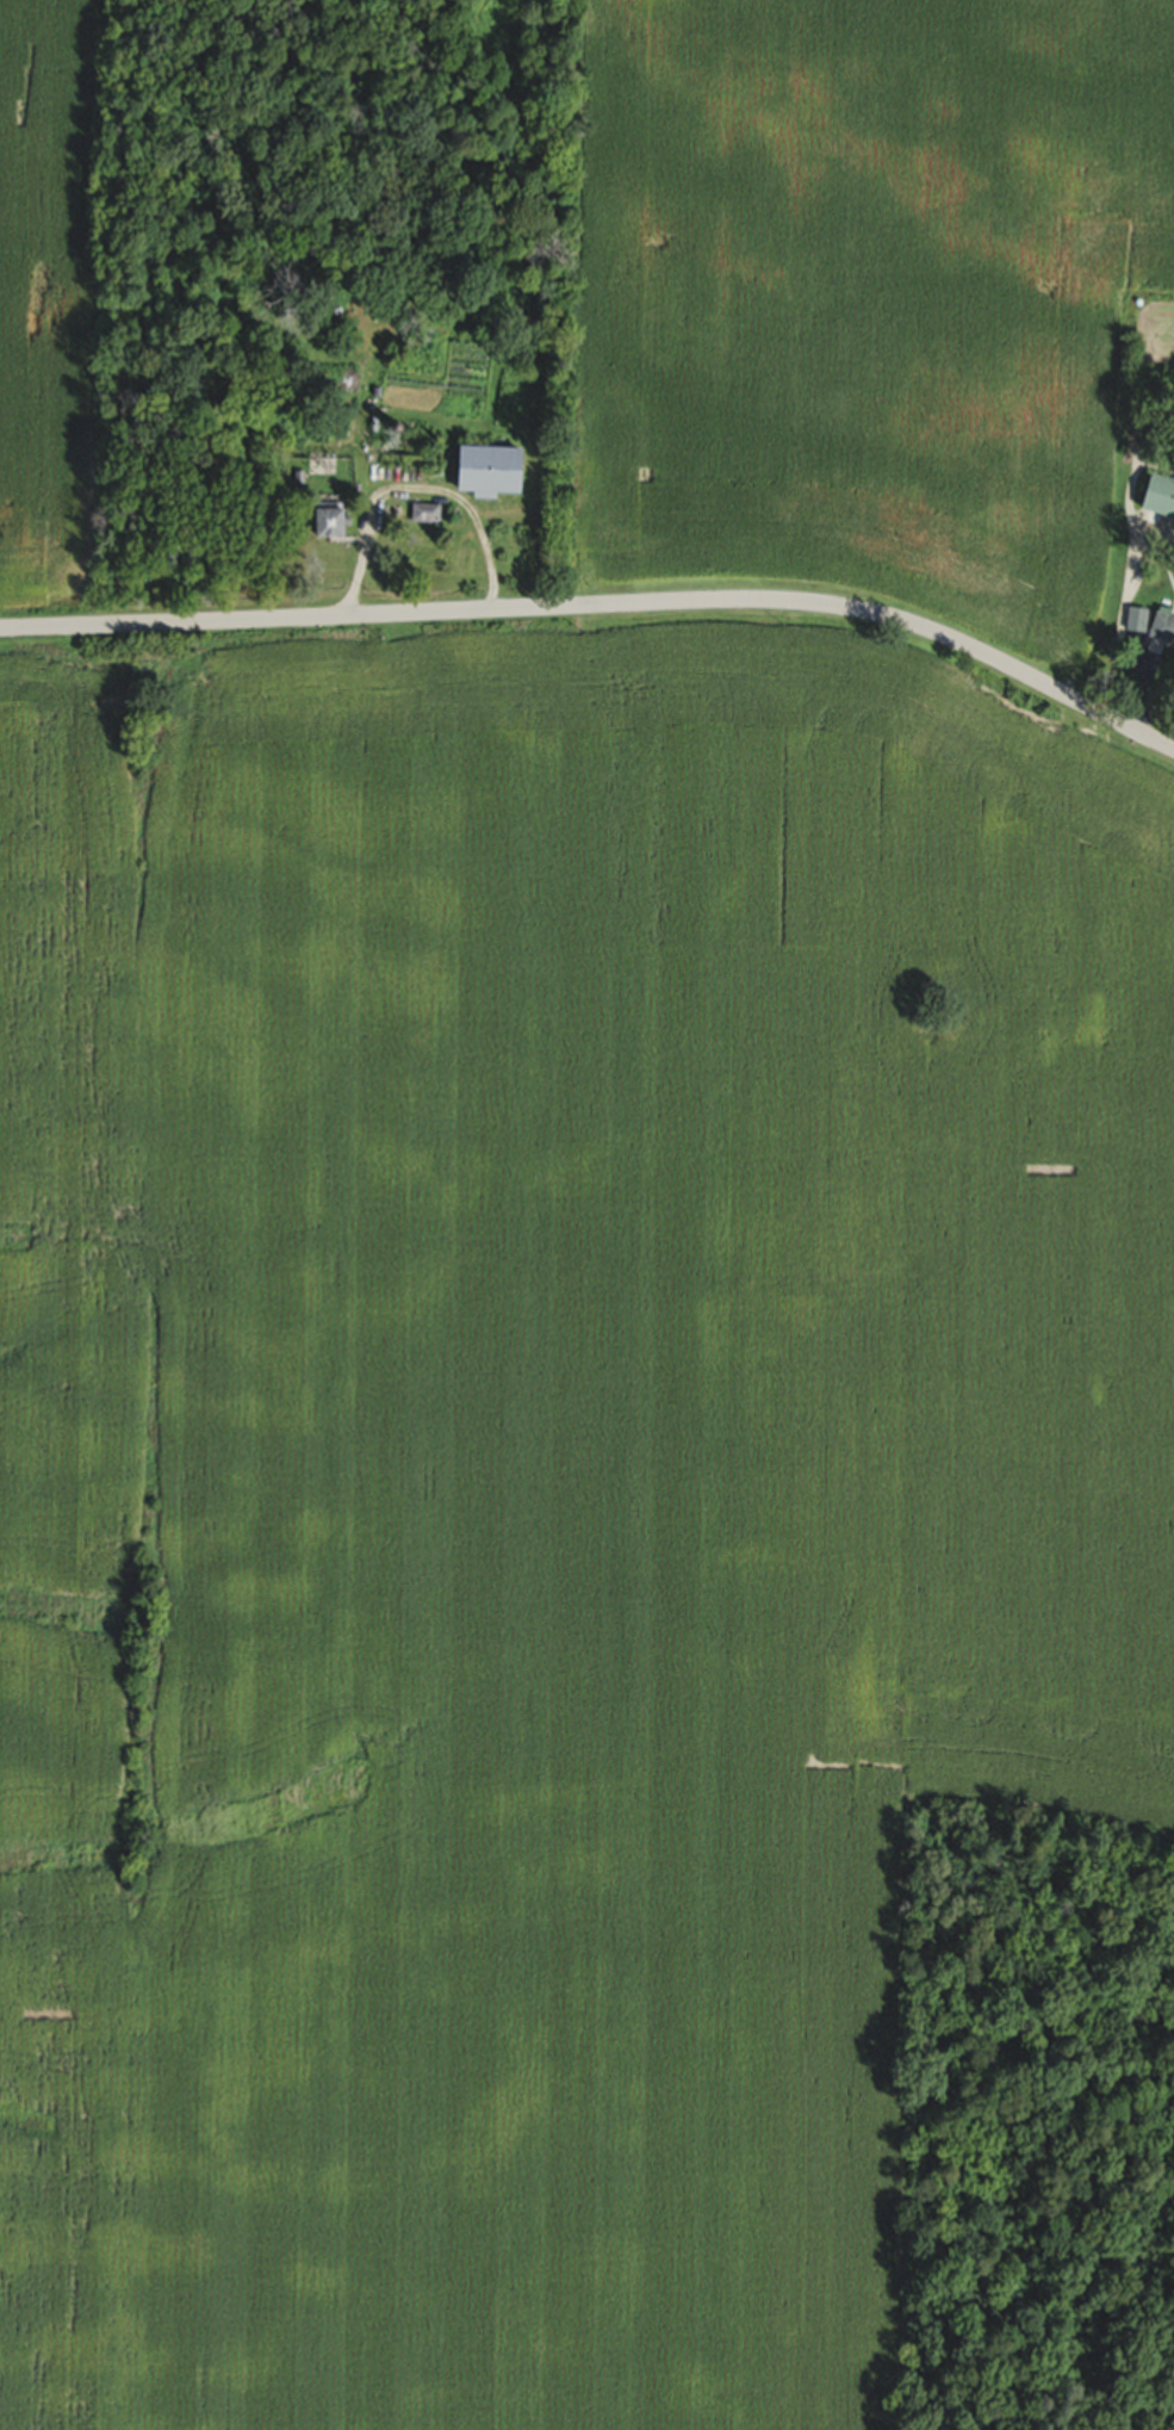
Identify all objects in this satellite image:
building: (482, 470)
road: (417, 488)
building: (1156, 496)
building: (323, 520)
road: (602, 605)
building: (1162, 627)

